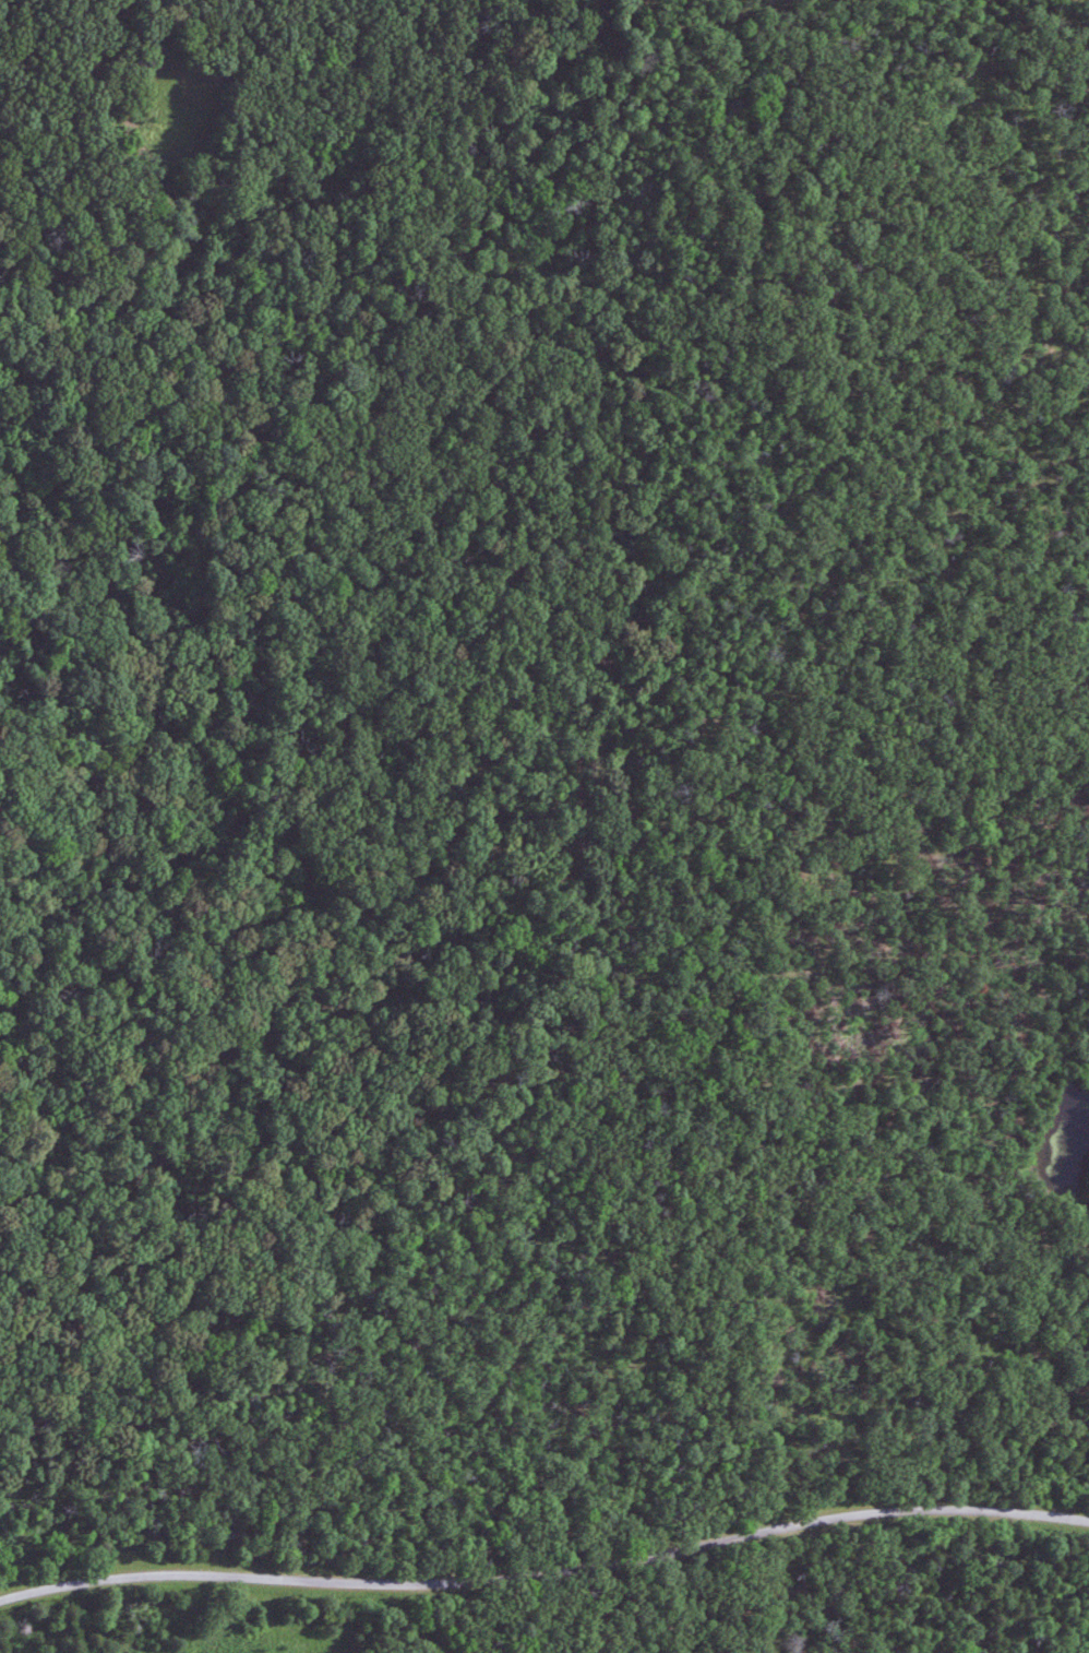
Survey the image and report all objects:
road: (547, 1577)

